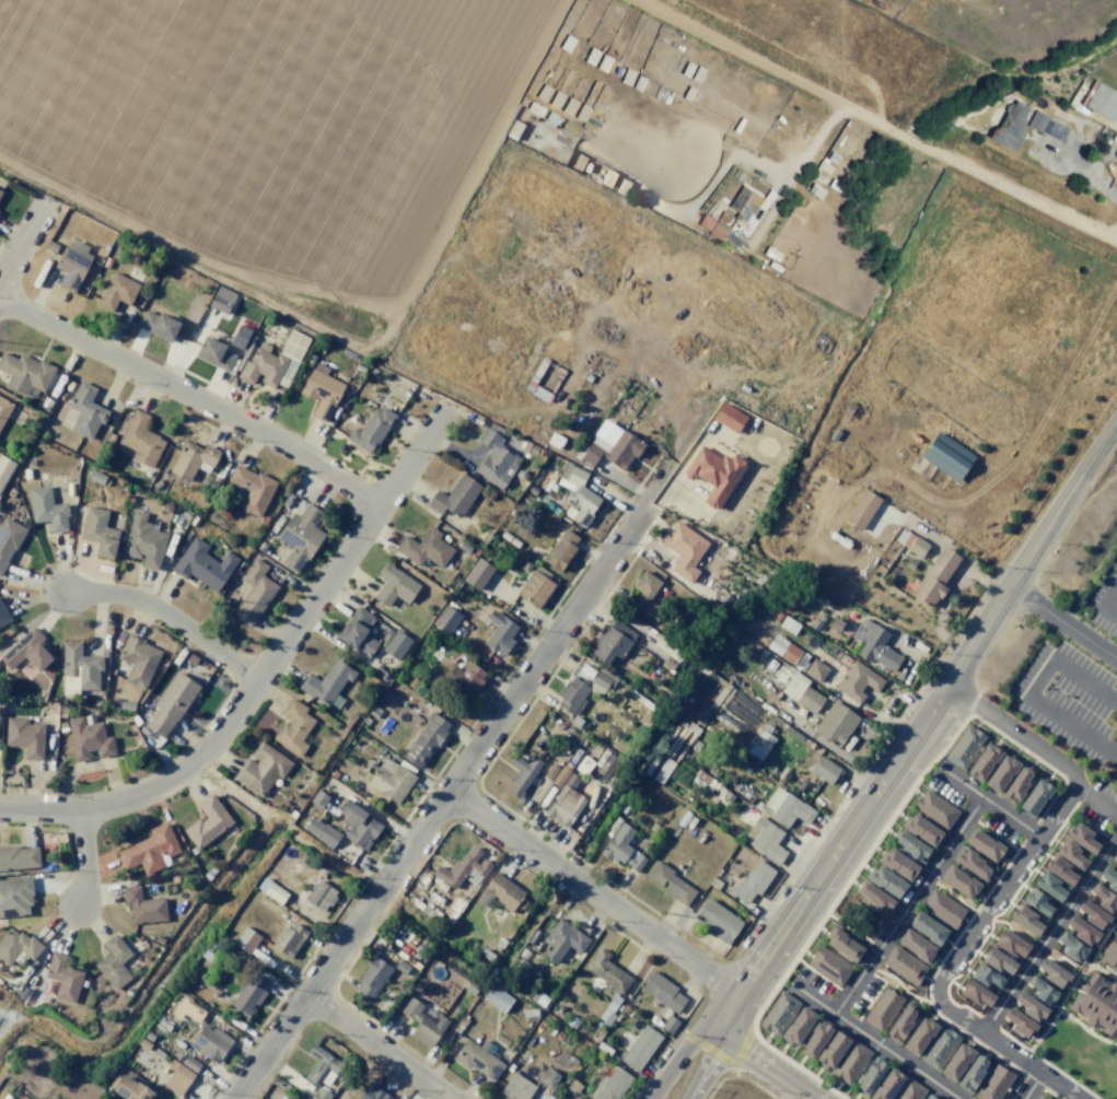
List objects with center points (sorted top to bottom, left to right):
building: (569, 44)
building: (593, 56)
building: (606, 61)
building: (689, 69)
building: (699, 74)
building: (629, 77)
building: (640, 83)
building: (676, 87)
building: (545, 93)
building: (690, 94)
building: (558, 100)
building: (1102, 101)
building: (570, 106)
building: (536, 109)
building: (583, 113)
building: (551, 120)
building: (1038, 121)
building: (1012, 126)
building: (571, 129)
crop: (278, 132)
building: (563, 154)
building: (1116, 155)
building: (834, 157)
building: (572, 160)
building: (825, 167)
building: (821, 176)
building: (607, 178)
building: (838, 186)
building: (623, 187)
building: (0, 190)
building: (0, 191)
building: (817, 191)
building: (745, 202)
building: (796, 217)
building: (725, 218)
building: (714, 227)
road: (21, 239)
building: (773, 254)
building: (72, 264)
building: (117, 292)
building: (221, 300)
building: (159, 326)
building: (240, 337)
building: (213, 353)
building: (274, 362)
building: (25, 373)
building: (321, 391)
road: (191, 395)
building: (4, 408)
building: (84, 410)
building: (729, 418)
building: (371, 431)
building: (140, 439)
building: (613, 449)
building: (946, 457)
building: (496, 458)
building: (193, 460)
building: (5, 469)
building: (26, 473)
building: (714, 475)
building: (96, 478)
building: (156, 484)
building: (252, 489)
building: (577, 495)
building: (454, 496)
building: (47, 507)
building: (165, 507)
building: (861, 510)
building: (194, 521)
building: (178, 523)
building: (98, 531)
building: (299, 536)
building: (8, 539)
building: (143, 541)
building: (910, 542)
building: (424, 548)
building: (684, 549)
building: (560, 550)
building: (202, 564)
building: (478, 574)
building: (934, 577)
building: (395, 586)
building: (536, 587)
building: (645, 588)
building: (253, 593)
road: (1105, 604)
road: (168, 615)
building: (3, 616)
building: (777, 618)
building: (445, 619)
building: (821, 619)
road: (1063, 622)
building: (788, 624)
building: (815, 624)
building: (836, 626)
building: (358, 632)
building: (499, 633)
building: (612, 641)
building: (396, 644)
building: (873, 644)
building: (783, 648)
building: (28, 651)
building: (137, 659)
building: (670, 663)
road: (263, 667)
building: (78, 669)
building: (816, 670)
building: (380, 671)
building: (464, 680)
building: (857, 681)
building: (602, 682)
building: (327, 683)
building: (801, 689)
road: (1029, 690)
building: (571, 694)
building: (385, 695)
building: (171, 703)
building: (126, 705)
building: (835, 724)
building: (293, 727)
road: (919, 730)
road: (1017, 733)
building: (24, 736)
building: (426, 738)
building: (88, 739)
building: (761, 741)
building: (964, 747)
building: (984, 761)
building: (261, 769)
building: (663, 770)
building: (826, 770)
building: (522, 772)
building: (549, 772)
building: (1001, 772)
building: (560, 775)
building: (389, 780)
building: (705, 782)
building: (1017, 784)
road: (1070, 793)
building: (725, 794)
building: (1036, 795)
building: (318, 799)
road: (987, 800)
road: (439, 805)
building: (565, 806)
building: (786, 807)
building: (935, 809)
road: (970, 817)
road: (1082, 820)
building: (208, 821)
building: (359, 826)
building: (922, 829)
building: (321, 831)
road: (1028, 831)
building: (1081, 838)
building: (765, 839)
road: (1110, 839)
road: (870, 846)
building: (986, 846)
building: (911, 847)
building: (623, 849)
building: (151, 850)
building: (1070, 854)
road: (85, 855)
building: (18, 857)
building: (1116, 857)
building: (898, 864)
building: (973, 864)
building: (461, 870)
building: (1060, 870)
building: (1109, 879)
building: (752, 880)
building: (887, 881)
building: (670, 882)
building: (961, 882)
building: (1048, 886)
building: (271, 890)
building: (501, 892)
road: (952, 892)
road: (593, 893)
building: (15, 896)
building: (321, 896)
park: (953, 896)
building: (875, 898)
building: (1105, 899)
building: (1037, 901)
road: (907, 904)
building: (142, 905)
building: (942, 909)
building: (1094, 914)
park: (857, 916)
road: (991, 917)
building: (718, 920)
building: (1025, 920)
road: (848, 927)
building: (930, 928)
road: (1010, 931)
park: (1017, 932)
building: (1083, 932)
road: (1048, 934)
building: (246, 939)
building: (289, 939)
building: (563, 939)
road: (966, 939)
building: (1010, 943)
building: (843, 944)
building: (916, 946)
building: (16, 947)
building: (1072, 947)
road: (1096, 949)
road: (1037, 950)
building: (1109, 952)
road: (873, 956)
building: (998, 960)
building: (114, 961)
park: (1061, 961)
building: (904, 964)
building: (828, 966)
building: (403, 967)
road: (934, 968)
building: (608, 972)
road: (1104, 972)
building: (1054, 974)
road: (1074, 974)
building: (62, 977)
building: (987, 977)
building: (373, 978)
road: (901, 986)
building: (49, 987)
park: (900, 987)
building: (473, 989)
building: (1044, 991)
building: (662, 992)
building: (976, 993)
building: (247, 996)
road: (811, 997)
building: (498, 999)
building: (1096, 1003)
building: (1031, 1006)
building: (882, 1009)
building: (608, 1010)
park: (8, 1012)
building: (778, 1013)
road: (1066, 1015)
road: (989, 1022)
building: (1020, 1022)
building: (422, 1024)
building: (668, 1024)
building: (901, 1024)
building: (798, 1026)
building: (919, 1034)
building: (815, 1038)
road: (992, 1039)
building: (210, 1043)
road: (380, 1047)
building: (938, 1047)
building: (640, 1048)
building: (831, 1050)
road: (895, 1056)
park: (1079, 1056)
road: (676, 1057)
building: (479, 1059)
building: (956, 1061)
building: (190, 1063)
road: (768, 1063)
building: (850, 1063)
road: (1049, 1064)
road: (707, 1066)
building: (321, 1069)
building: (974, 1073)
building: (870, 1075)
building: (177, 1077)
building: (548, 1077)
road: (1034, 1082)
building: (993, 1083)
building: (612, 1084)
building: (887, 1085)
road: (1029, 1086)
building: (573, 1087)
building: (132, 1088)
building: (517, 1088)
building: (909, 1090)
road: (1071, 1090)
road: (792, 1091)
building: (372, 1092)
road: (1051, 1094)
building: (931, 1096)
building: (1040, 1097)

